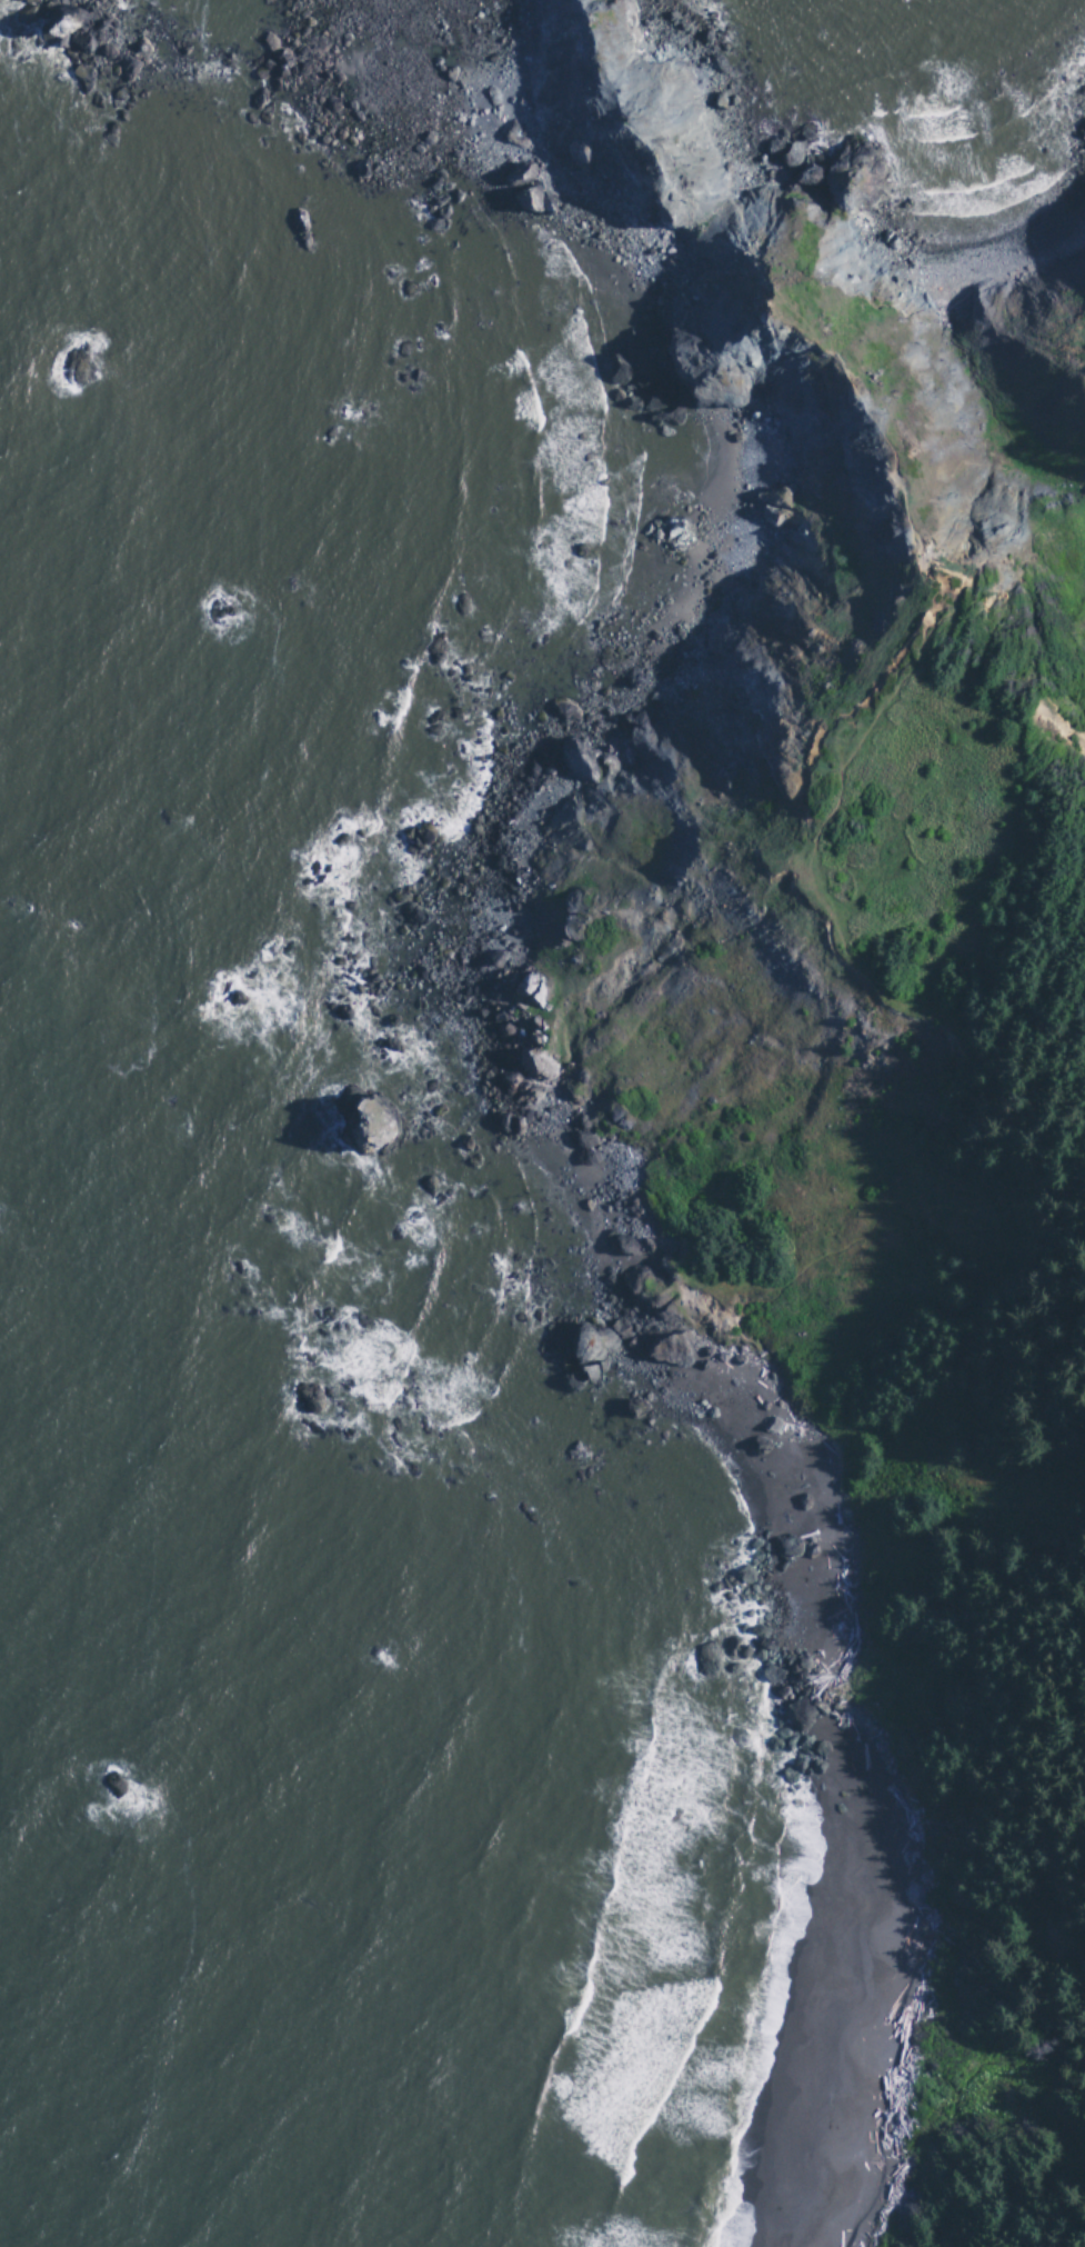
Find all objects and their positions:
road: (861, 735)
road: (915, 1198)

